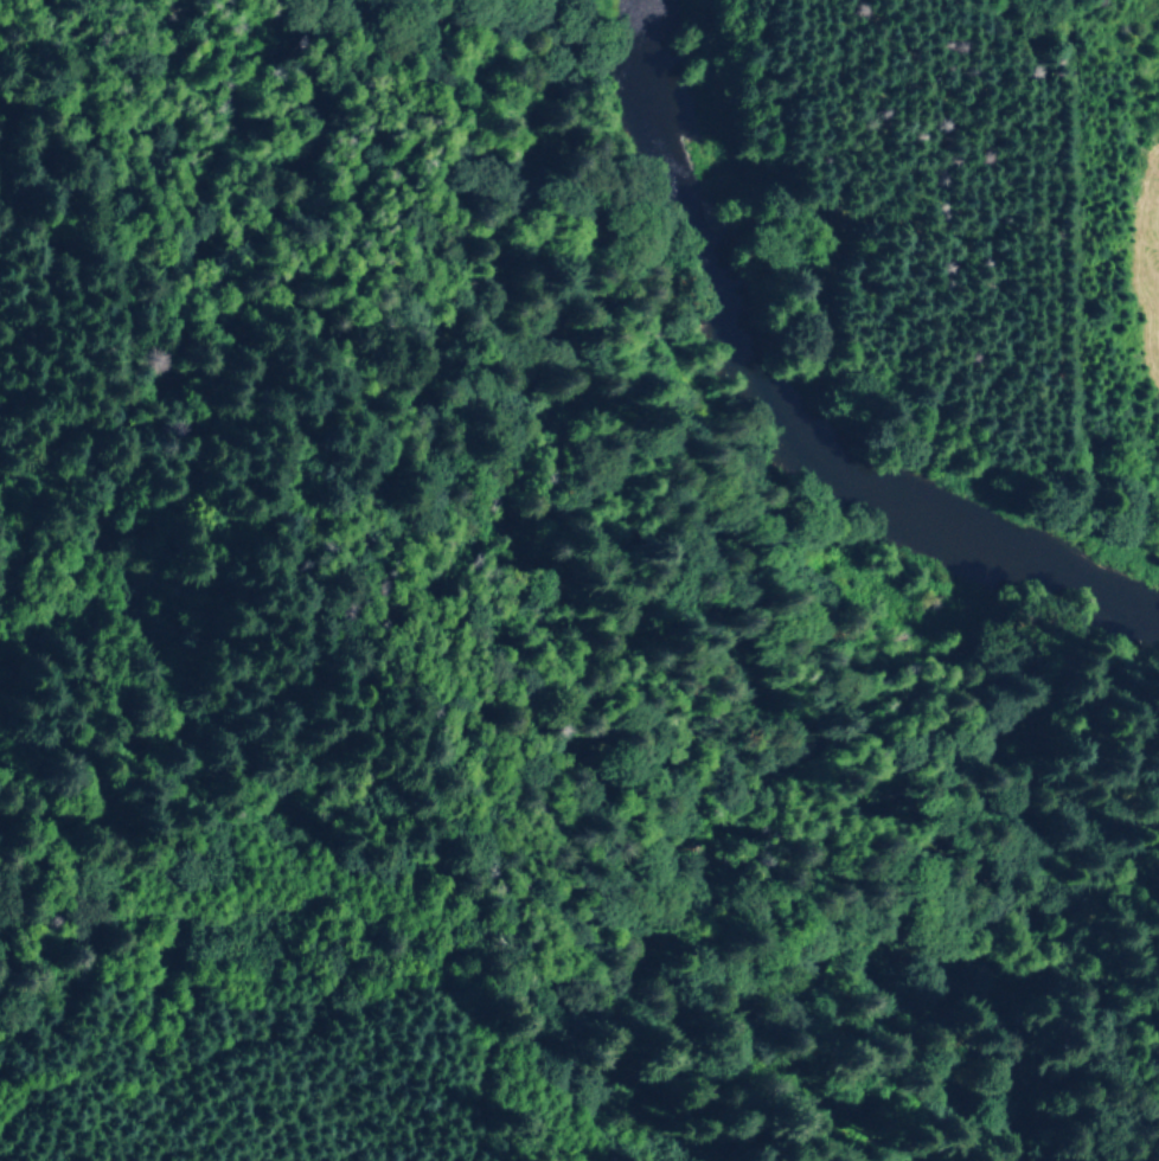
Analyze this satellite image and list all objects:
river: (793, 415)

